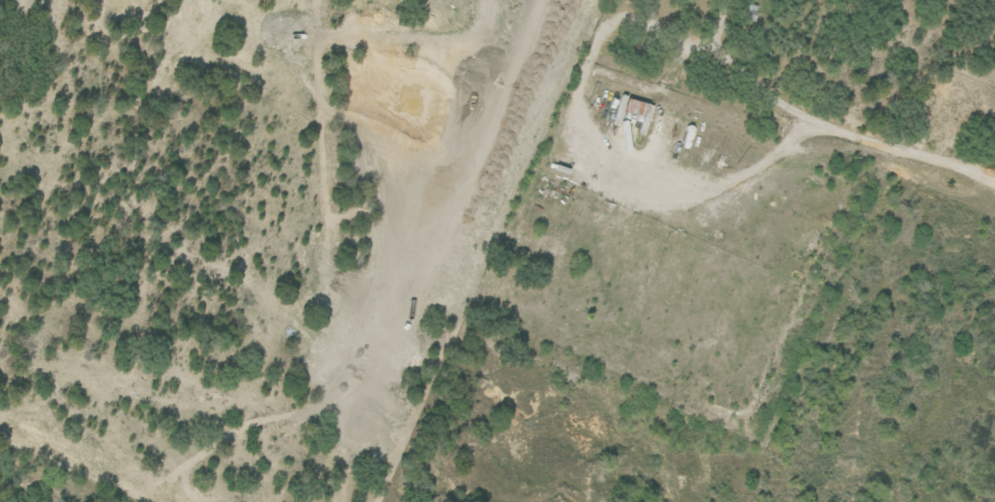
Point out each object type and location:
road: (739, 71)
road: (737, 182)

